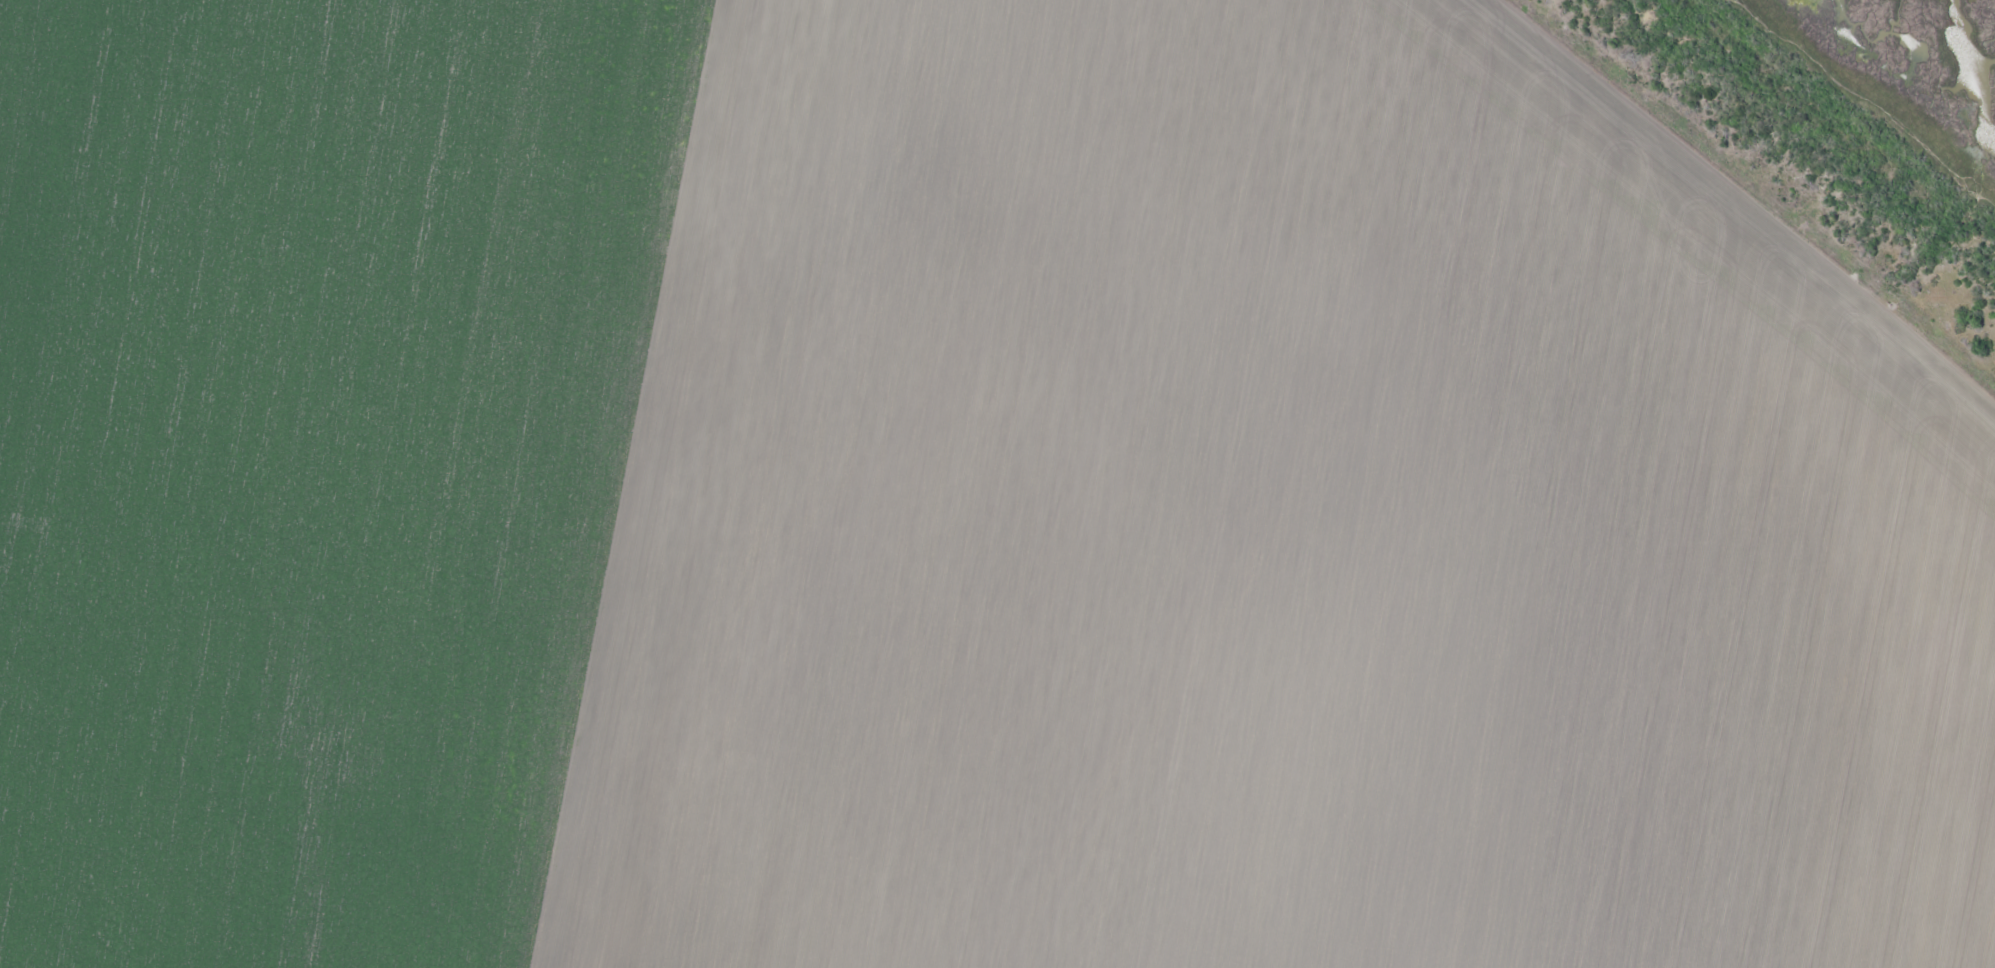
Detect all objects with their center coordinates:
road: (1728, 221)

